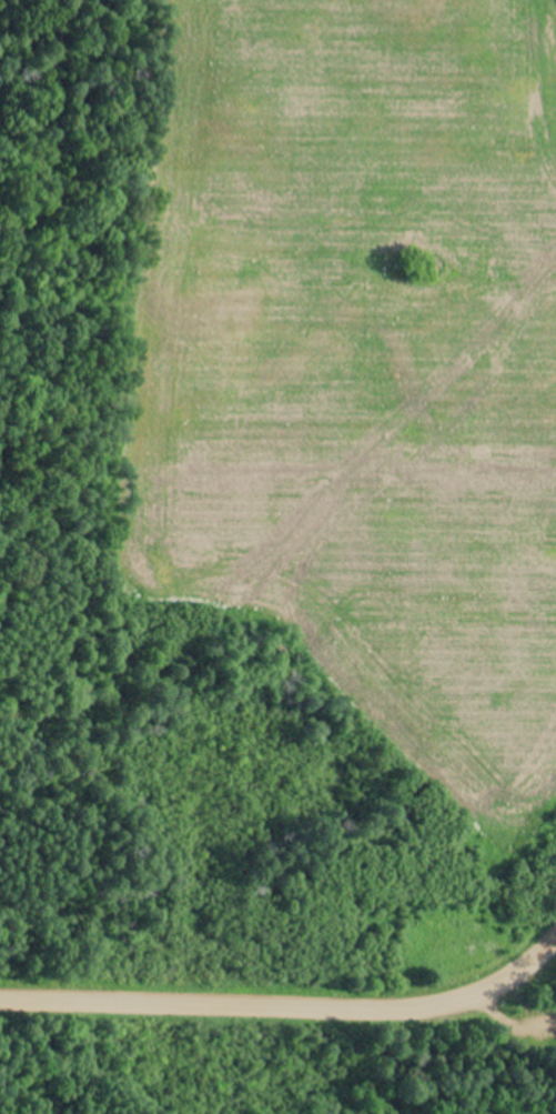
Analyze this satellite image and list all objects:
road: (291, 980)

